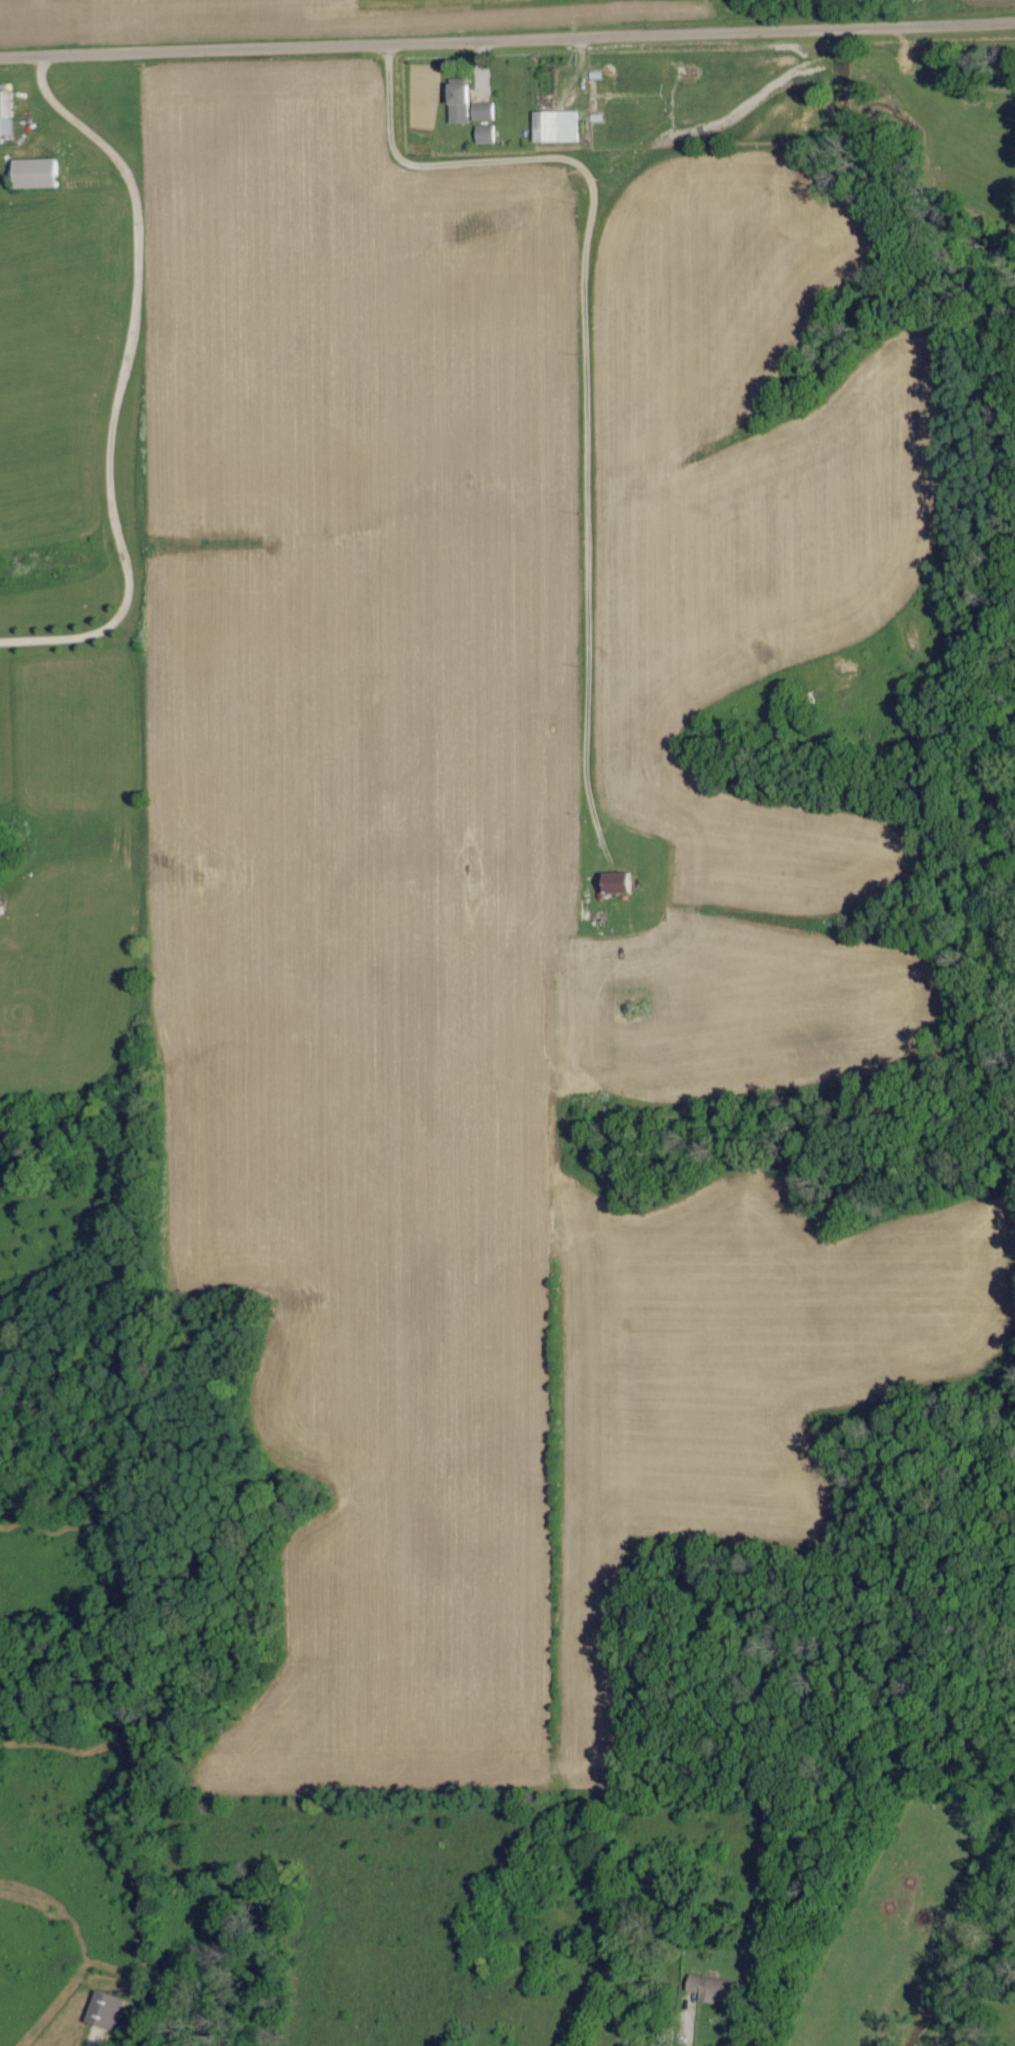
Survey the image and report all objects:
road: (507, 39)
building: (456, 102)
building: (482, 111)
building: (4, 114)
building: (553, 126)
building: (484, 134)
building: (32, 174)
road: (590, 347)
road: (121, 380)
building: (613, 884)
building: (709, 1988)
building: (111, 2011)

